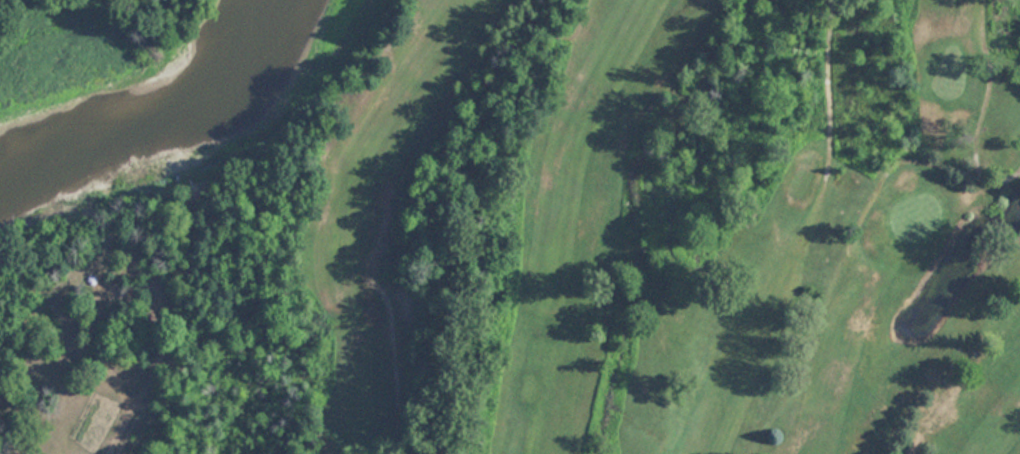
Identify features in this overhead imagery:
river: (170, 115)
park: (657, 231)

